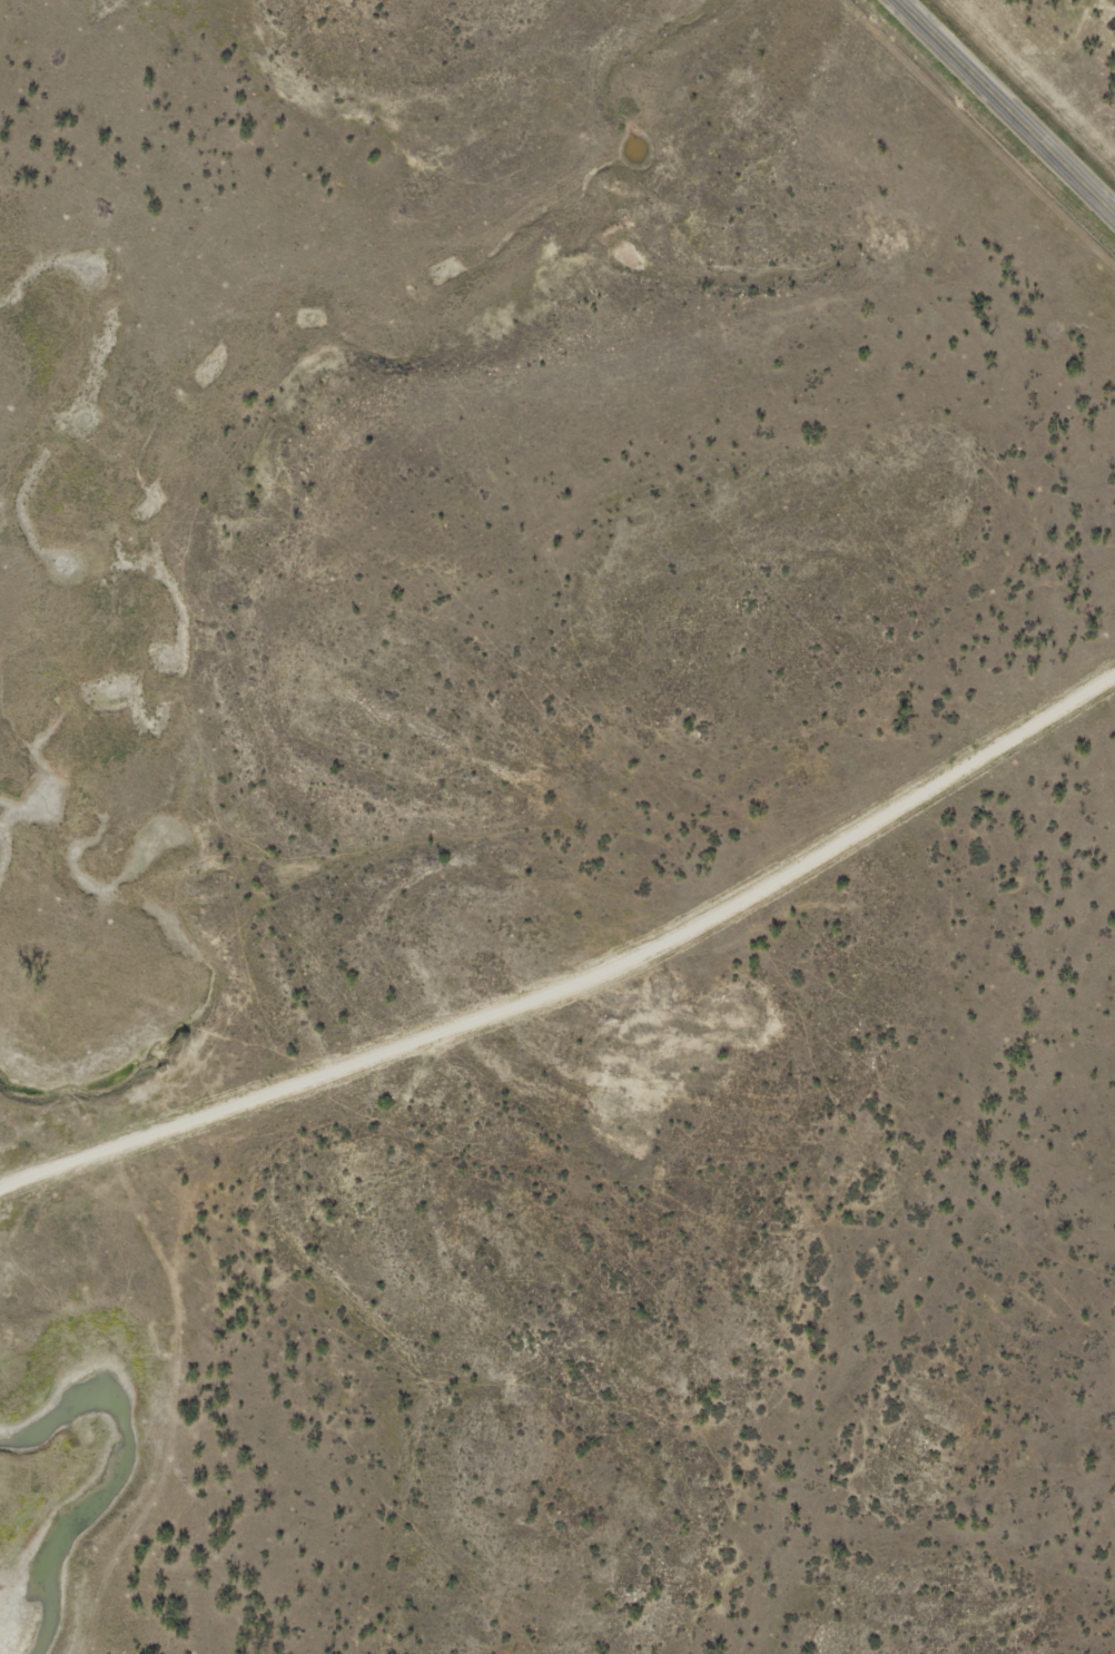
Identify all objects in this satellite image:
road: (998, 118)
road: (573, 978)

